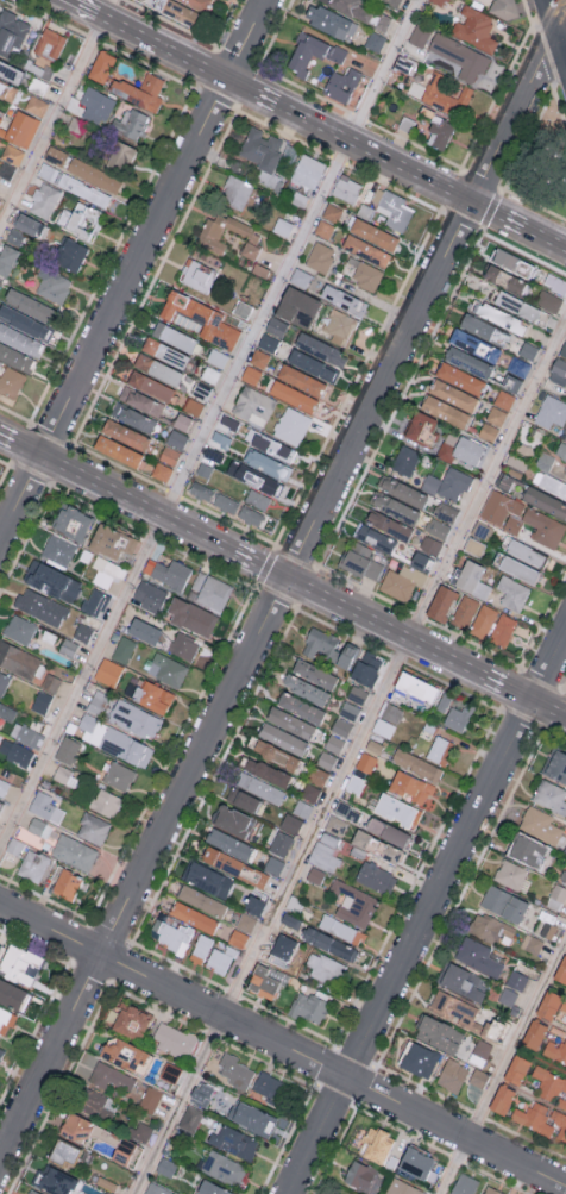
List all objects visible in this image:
building: (439, 1)
building: (197, 4)
road: (83, 7)
building: (176, 10)
building: (504, 10)
road: (560, 14)
building: (327, 19)
building: (476, 30)
building: (11, 32)
building: (420, 37)
building: (375, 39)
building: (50, 43)
building: (312, 52)
building: (459, 57)
building: (101, 64)
building: (10, 70)
building: (341, 83)
building: (2, 87)
building: (140, 90)
building: (440, 98)
building: (36, 104)
building: (96, 105)
road: (56, 114)
building: (0, 117)
building: (130, 123)
building: (21, 127)
road: (332, 131)
building: (442, 135)
building: (260, 148)
building: (12, 154)
building: (119, 154)
building: (55, 155)
park: (540, 163)
building: (308, 170)
building: (94, 174)
building: (73, 183)
building: (235, 192)
building: (347, 192)
building: (44, 199)
building: (389, 211)
building: (332, 214)
building: (80, 219)
building: (25, 223)
building: (282, 226)
building: (219, 230)
building: (325, 231)
building: (15, 236)
building: (375, 236)
building: (250, 249)
building: (367, 252)
building: (69, 254)
building: (320, 256)
building: (6, 257)
building: (515, 265)
road: (133, 270)
building: (365, 273)
building: (197, 274)
building: (300, 276)
building: (0, 280)
building: (507, 282)
building: (52, 285)
building: (556, 286)
building: (344, 299)
building: (548, 302)
building: (30, 305)
building: (297, 306)
building: (241, 308)
building: (522, 310)
building: (199, 318)
building: (502, 319)
building: (24, 321)
building: (276, 325)
building: (339, 325)
building: (485, 331)
building: (174, 336)
building: (20, 339)
building: (268, 342)
building: (474, 344)
building: (321, 349)
building: (562, 349)
building: (164, 351)
building: (15, 357)
building: (263, 357)
building: (467, 361)
building: (313, 364)
building: (158, 368)
building: (558, 370)
building: (251, 374)
building: (459, 377)
building: (301, 380)
building: (11, 381)
building: (150, 385)
building: (452, 394)
building: (293, 395)
building: (141, 400)
building: (502, 400)
building: (253, 405)
building: (445, 410)
building: (551, 413)
building: (132, 417)
building: (495, 417)
building: (182, 420)
road: (208, 424)
building: (228, 425)
building: (291, 425)
building: (420, 427)
building: (125, 433)
building: (177, 438)
building: (213, 449)
building: (117, 450)
building: (461, 450)
building: (561, 450)
building: (169, 455)
building: (405, 460)
building: (516, 461)
building: (162, 470)
building: (565, 471)
building: (448, 482)
building: (512, 485)
building: (201, 489)
building: (401, 490)
building: (257, 498)
building: (546, 501)
building: (225, 502)
building: (395, 507)
building: (445, 511)
building: (250, 514)
building: (521, 518)
building: (71, 521)
building: (388, 524)
building: (438, 527)
building: (375, 537)
building: (112, 542)
building: (430, 544)
building: (58, 549)
building: (527, 552)
building: (360, 561)
building: (518, 568)
building: (171, 573)
road: (283, 574)
building: (472, 579)
building: (52, 581)
building: (401, 581)
building: (210, 590)
road: (283, 590)
building: (512, 592)
building: (147, 594)
building: (95, 601)
building: (441, 602)
building: (40, 606)
building: (465, 611)
building: (191, 615)
building: (483, 620)
building: (19, 629)
building: (144, 630)
building: (503, 630)
building: (183, 645)
building: (328, 648)
building: (122, 649)
building: (18, 659)
building: (366, 667)
building: (168, 669)
building: (107, 671)
building: (314, 674)
building: (4, 682)
building: (50, 682)
building: (304, 688)
building: (414, 690)
building: (152, 695)
building: (40, 701)
building: (98, 701)
building: (300, 707)
building: (7, 711)
building: (454, 712)
building: (134, 719)
building: (386, 719)
building: (289, 721)
building: (26, 734)
building: (281, 738)
building: (115, 740)
building: (333, 743)
building: (67, 749)
building: (440, 750)
building: (19, 754)
building: (276, 755)
road: (351, 758)
building: (326, 759)
building: (365, 762)
building: (416, 764)
building: (555, 764)
building: (266, 771)
building: (62, 774)
building: (119, 775)
building: (317, 775)
building: (354, 783)
building: (2, 786)
building: (410, 786)
building: (260, 788)
building: (310, 792)
building: (551, 796)
building: (241, 799)
building: (106, 802)
building: (0, 804)
building: (45, 806)
building: (302, 808)
building: (397, 809)
building: (231, 819)
building: (290, 823)
building: (335, 824)
building: (540, 824)
building: (39, 826)
building: (93, 827)
building: (389, 832)
building: (228, 843)
building: (279, 843)
building: (379, 848)
building: (13, 849)
building: (528, 850)
building: (74, 851)
building: (325, 852)
building: (221, 859)
building: (32, 864)
building: (273, 864)
building: (315, 875)
building: (511, 875)
building: (564, 875)
building: (375, 877)
building: (207, 879)
building: (65, 883)
building: (556, 896)
building: (201, 900)
building: (503, 902)
building: (353, 904)
road: (428, 914)
building: (193, 917)
building: (246, 921)
building: (341, 929)
building: (171, 936)
building: (238, 938)
building: (329, 943)
building: (200, 948)
building: (282, 948)
building: (477, 956)
building: (220, 959)
building: (18, 963)
building: (325, 967)
building: (561, 970)
building: (263, 981)
building: (460, 981)
building: (11, 994)
building: (562, 1005)
building: (308, 1007)
building: (452, 1008)
building: (541, 1019)
building: (6, 1020)
building: (131, 1021)
building: (438, 1033)
building: (174, 1039)
road: (283, 1044)
building: (555, 1045)
building: (0, 1050)
building: (480, 1050)
building: (122, 1052)
building: (419, 1058)
road: (502, 1064)
building: (234, 1070)
building: (516, 1070)
building: (452, 1075)
building: (112, 1077)
building: (478, 1077)
building: (549, 1083)
building: (269, 1087)
building: (202, 1093)
building: (150, 1099)
building: (502, 1099)
building: (95, 1105)
building: (190, 1118)
building: (252, 1118)
building: (543, 1118)
building: (75, 1126)
building: (140, 1131)
building: (233, 1142)
building: (375, 1143)
building: (122, 1151)
building: (63, 1154)
building: (416, 1162)
building: (224, 1168)
building: (361, 1176)
building: (56, 1181)
building: (464, 1184)
building: (402, 1187)
building: (210, 1188)
building: (155, 1189)
building: (491, 1190)
building: (32, 1192)
building: (101, 1193)

